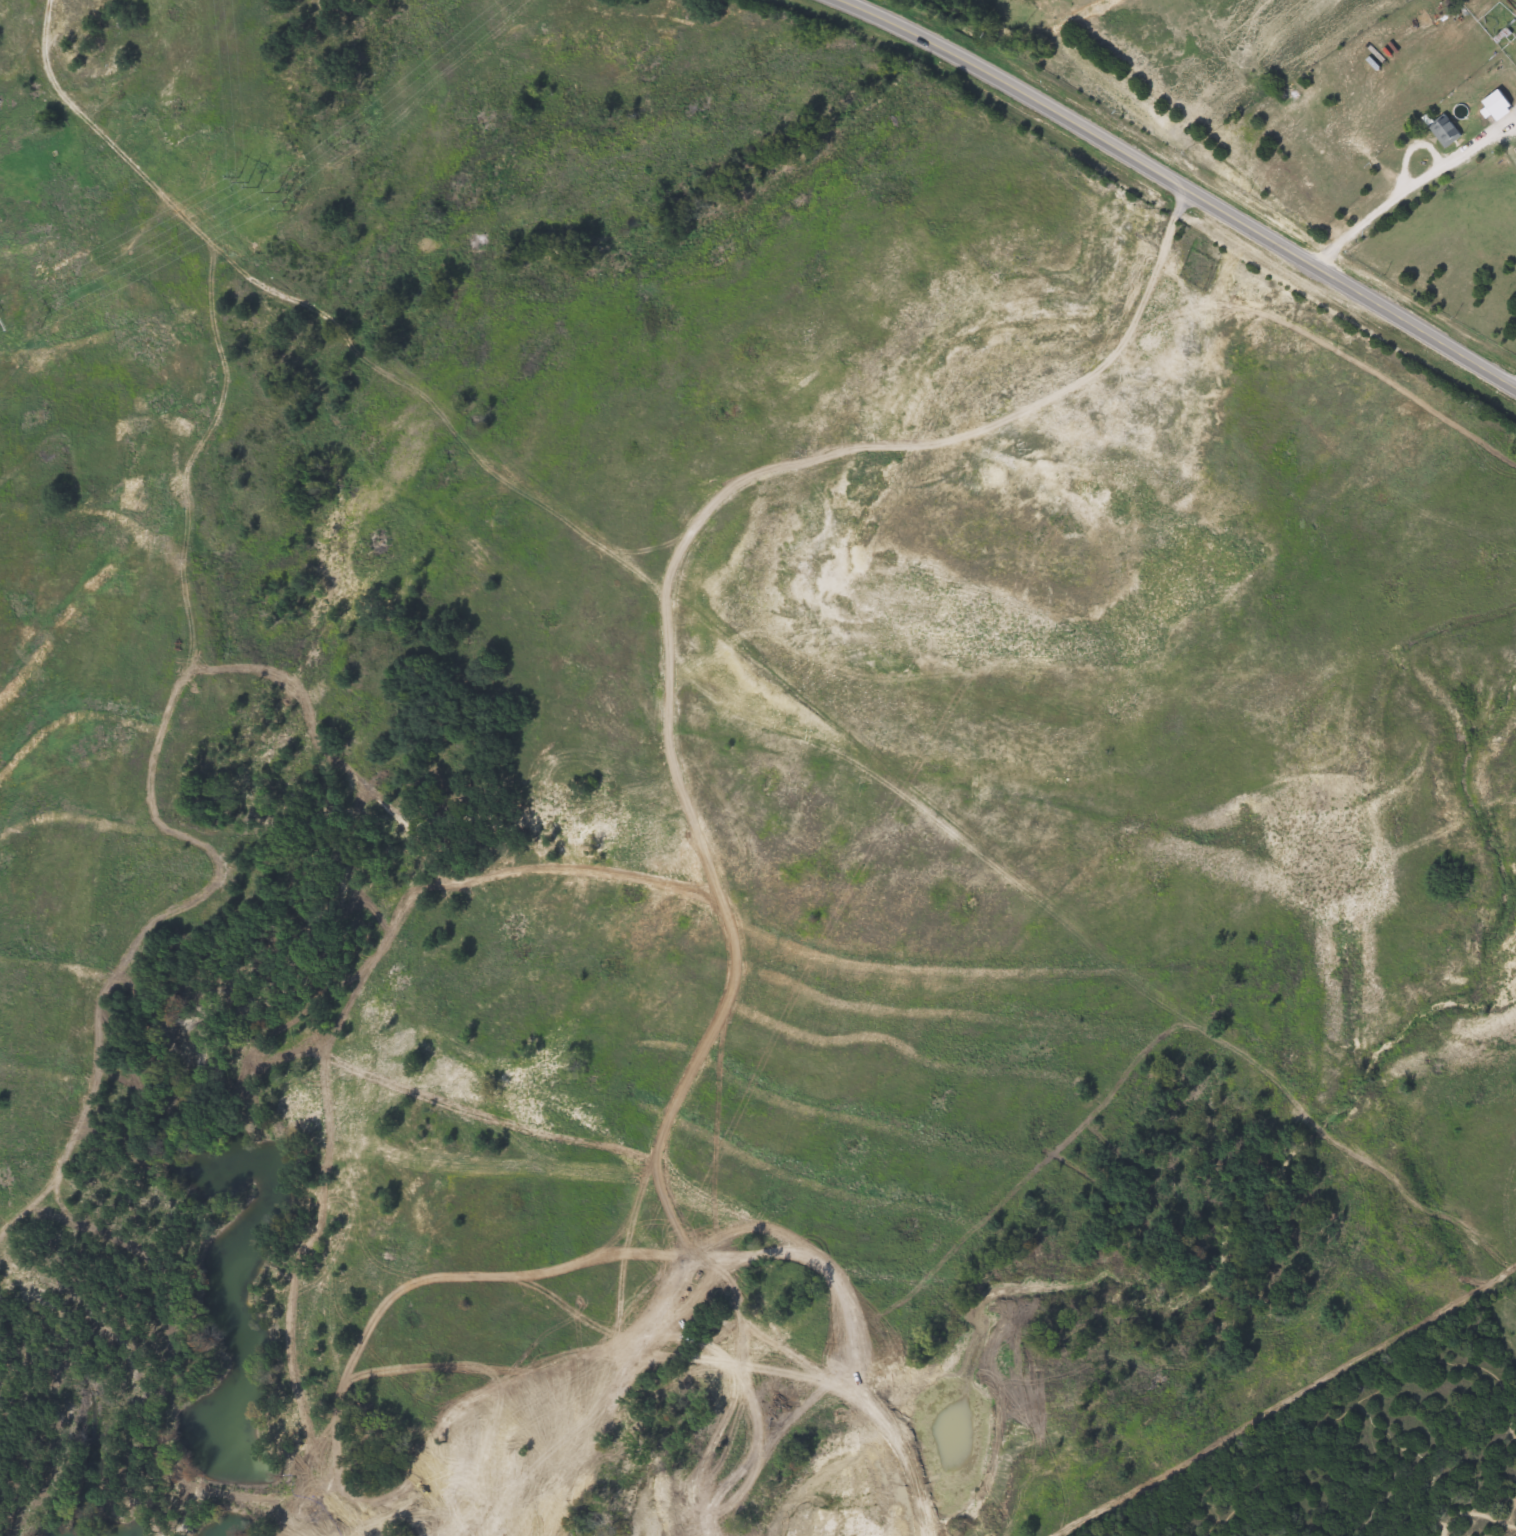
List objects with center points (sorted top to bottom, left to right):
road: (46, 59)
building: (1490, 111)
building: (1442, 132)
road: (1455, 156)
road: (1172, 188)
road: (1390, 203)
road: (1515, 397)

